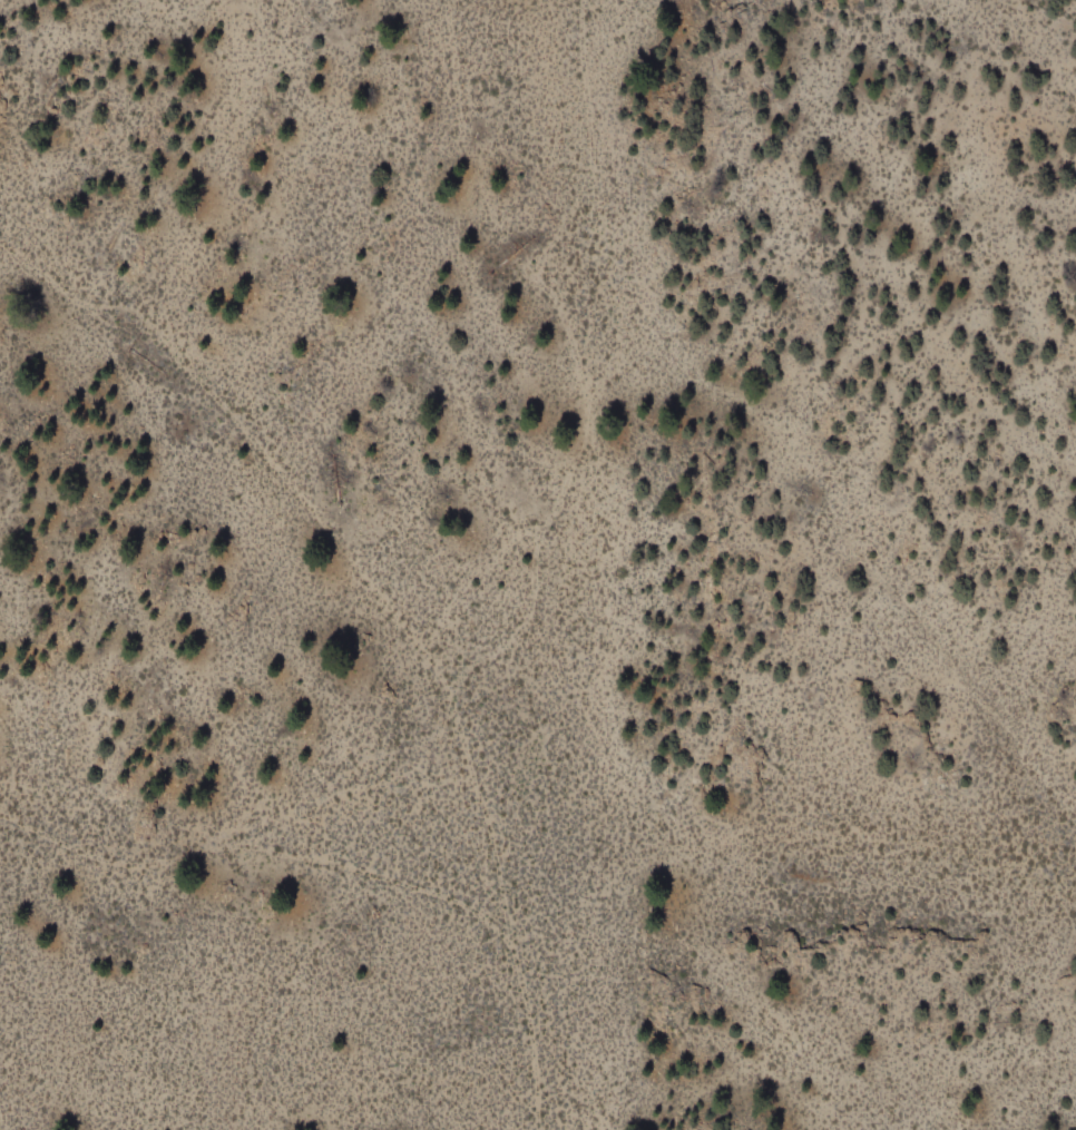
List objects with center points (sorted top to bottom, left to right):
road: (589, 76)
road: (559, 214)
mineshaft: (503, 254)
road: (558, 488)
road: (383, 616)

